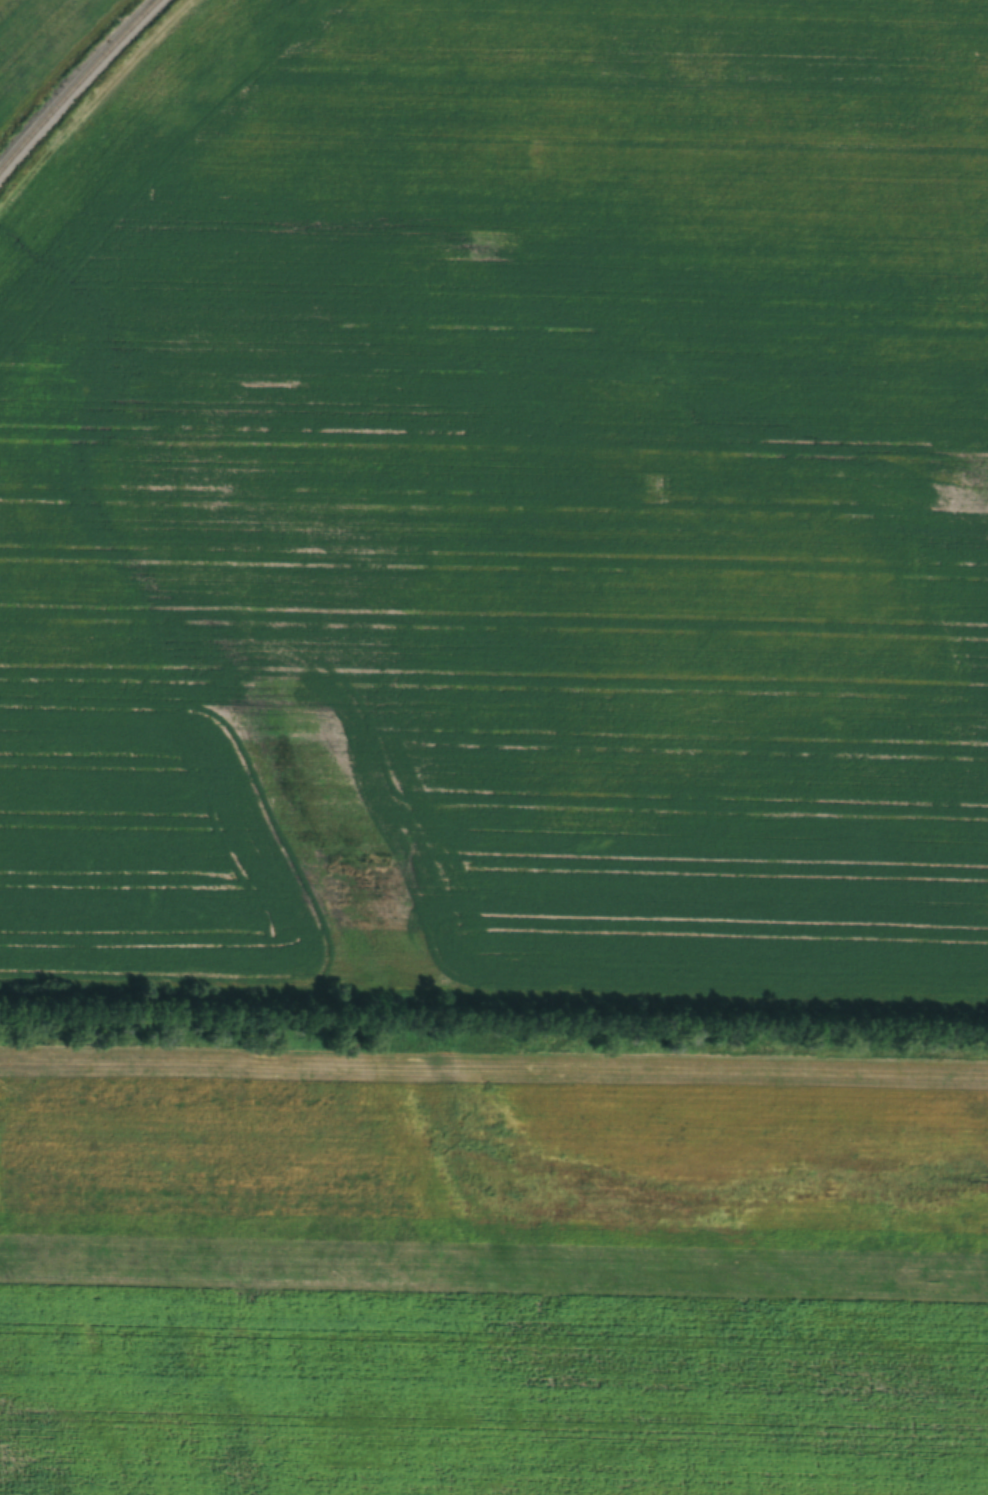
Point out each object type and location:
railway: (83, 86)

